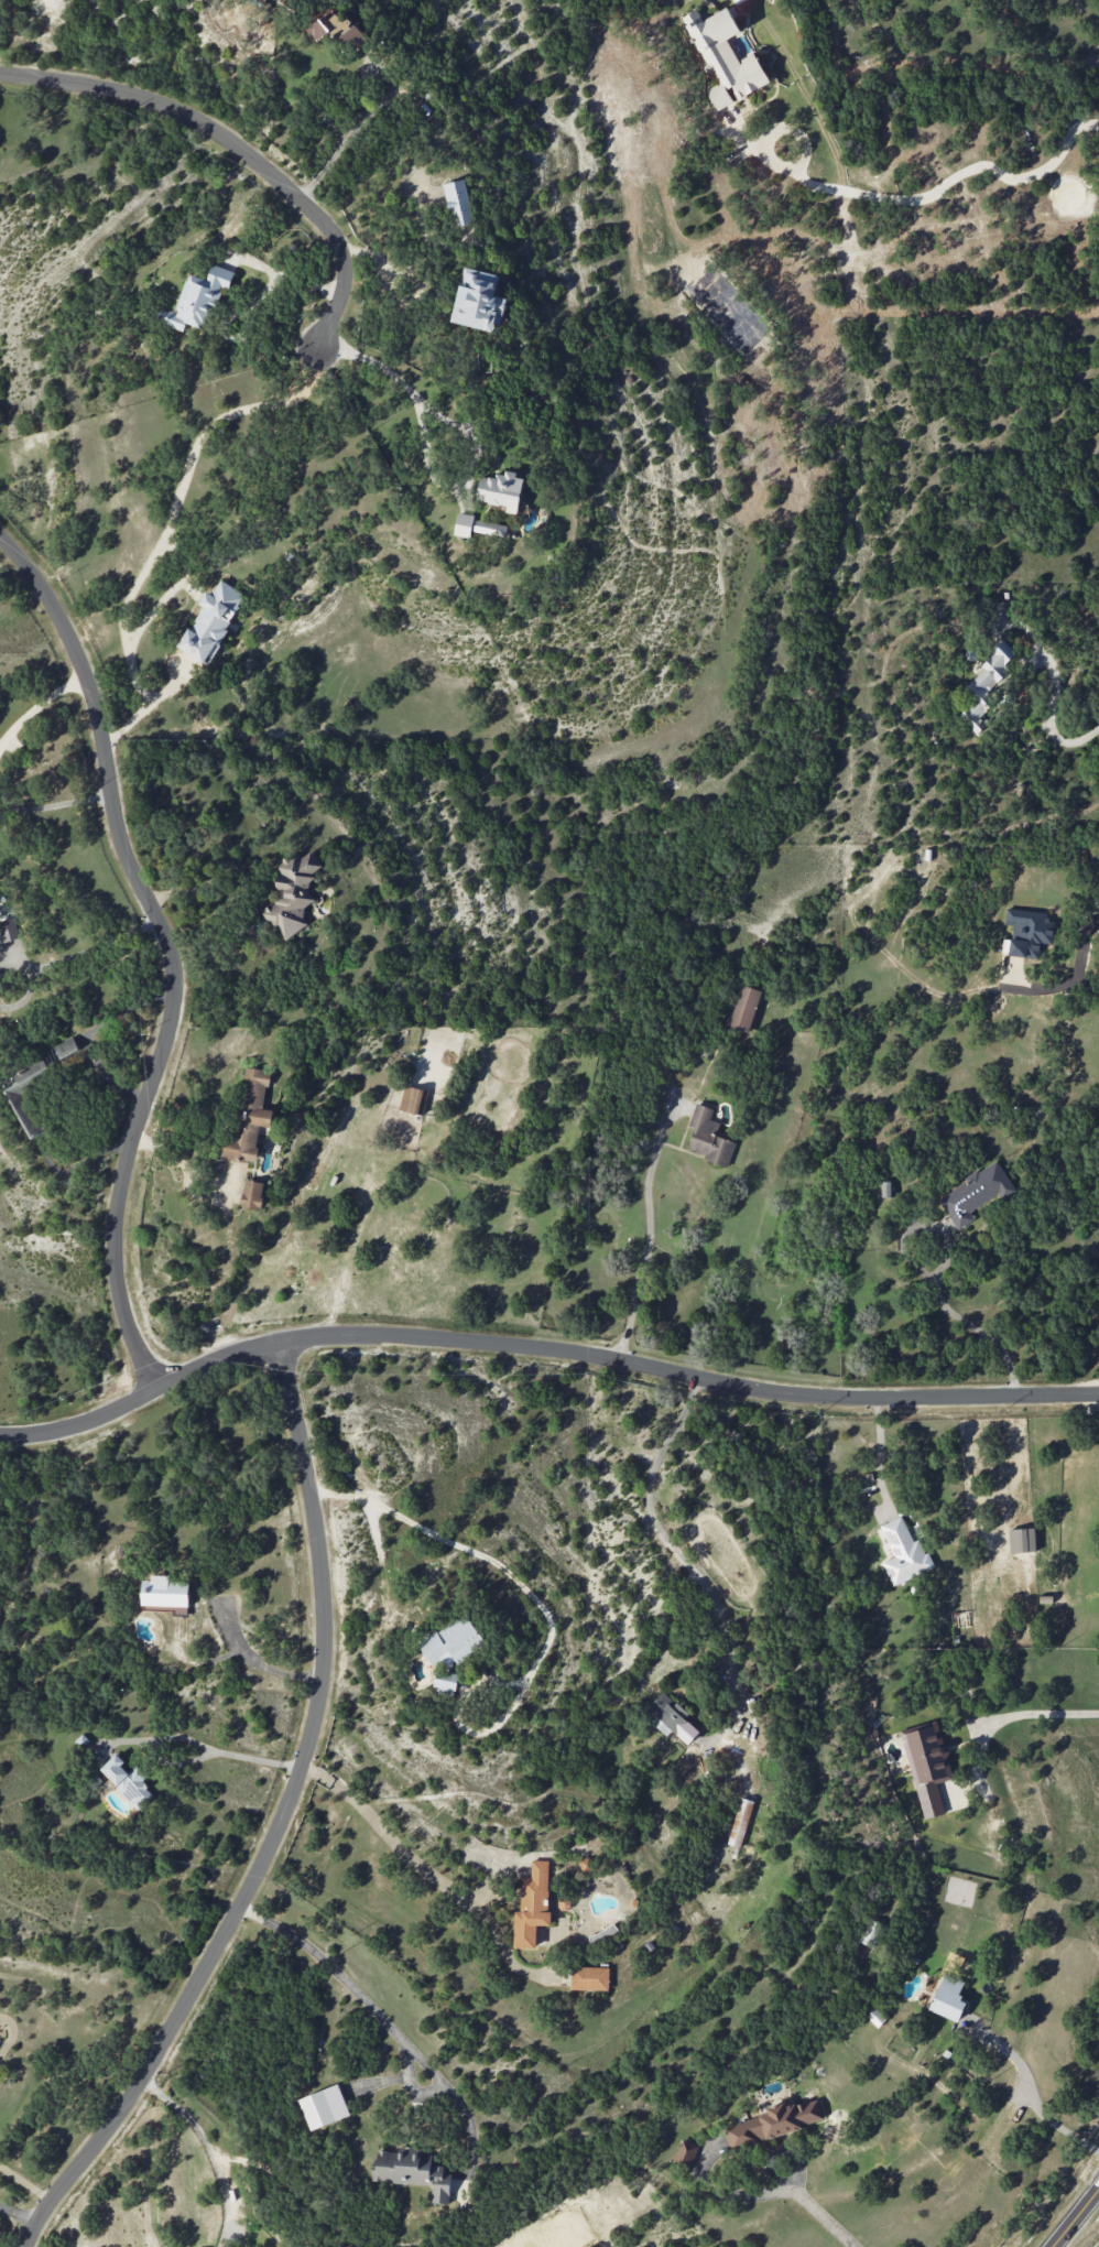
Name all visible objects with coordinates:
building: (338, 24)
building: (318, 30)
building: (353, 37)
building: (723, 56)
road: (361, 90)
road: (349, 131)
road: (235, 146)
road: (775, 164)
road: (897, 200)
building: (457, 203)
building: (199, 298)
building: (478, 300)
road: (461, 427)
building: (501, 490)
building: (478, 527)
building: (211, 621)
building: (983, 687)
road: (39, 704)
road: (1049, 719)
building: (293, 893)
building: (8, 930)
building: (1026, 932)
road: (168, 947)
road: (85, 955)
building: (744, 1008)
building: (35, 1083)
building: (250, 1116)
building: (402, 1127)
building: (708, 1137)
building: (886, 1188)
building: (252, 1194)
building: (973, 1194)
road: (648, 1230)
road: (938, 1273)
road: (541, 1348)
building: (1022, 1539)
building: (903, 1552)
building: (165, 1592)
building: (450, 1649)
road: (255, 1652)
road: (1010, 1715)
building: (671, 1717)
road: (209, 1748)
building: (927, 1765)
building: (128, 1781)
building: (740, 1822)
road: (279, 1823)
road: (395, 1841)
building: (532, 1904)
building: (870, 1932)
building: (589, 1977)
road: (350, 1980)
building: (948, 1998)
building: (875, 2017)
road: (1030, 2095)
building: (324, 2106)
building: (764, 2126)
road: (211, 2146)
building: (685, 2153)
building: (412, 2171)
road: (25, 2183)
road: (18, 2215)
road: (821, 2215)
road: (1075, 2217)

